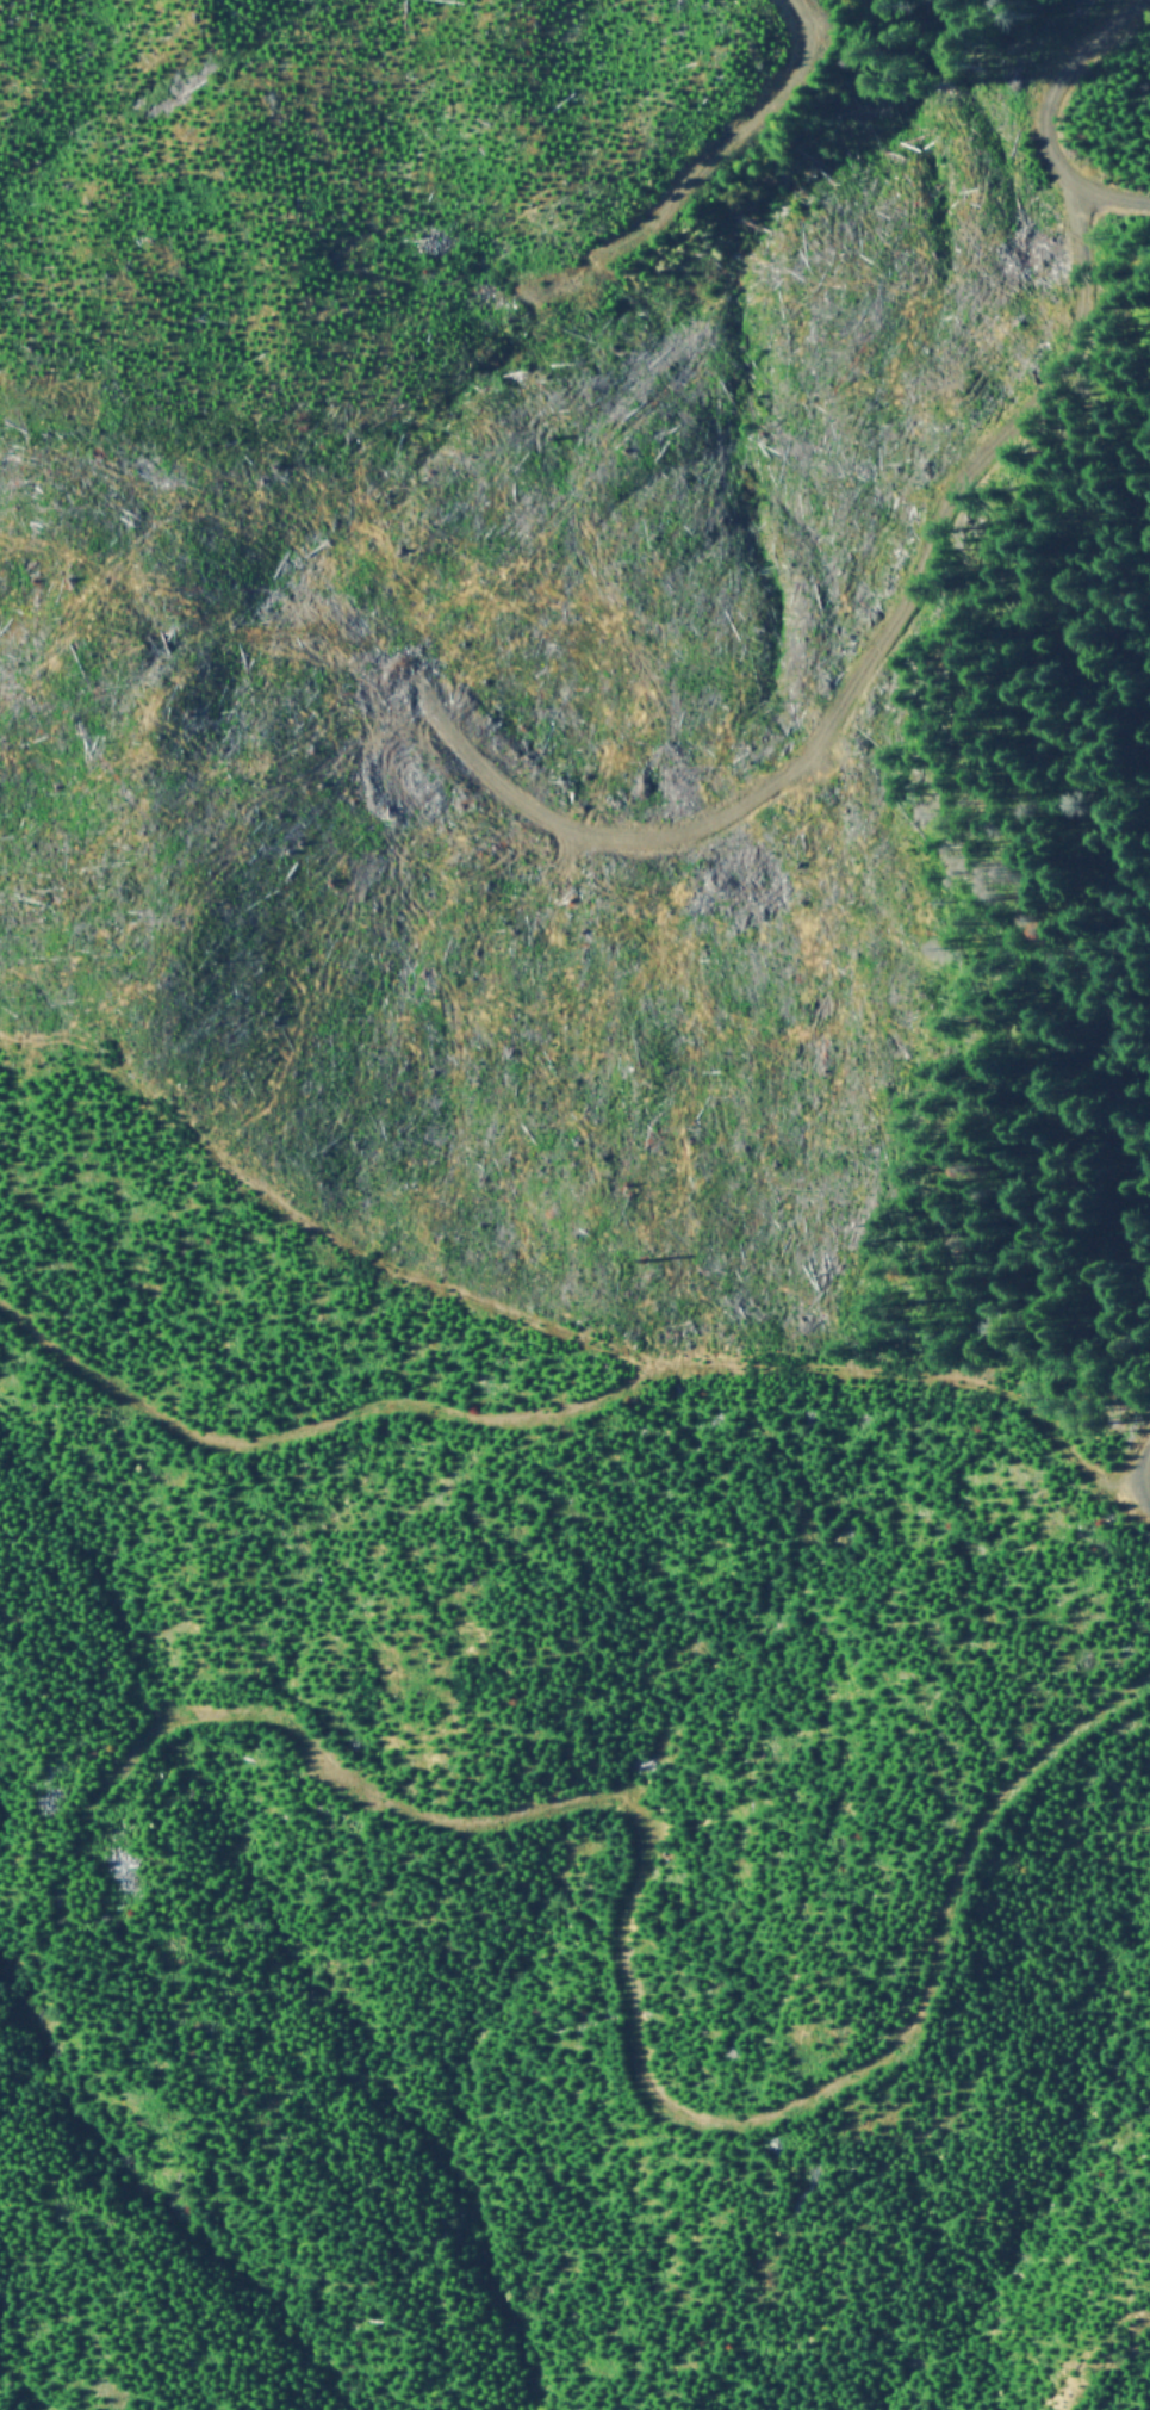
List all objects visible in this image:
road: (1062, 113)
road: (709, 180)
road: (577, 1399)
road: (628, 2030)

